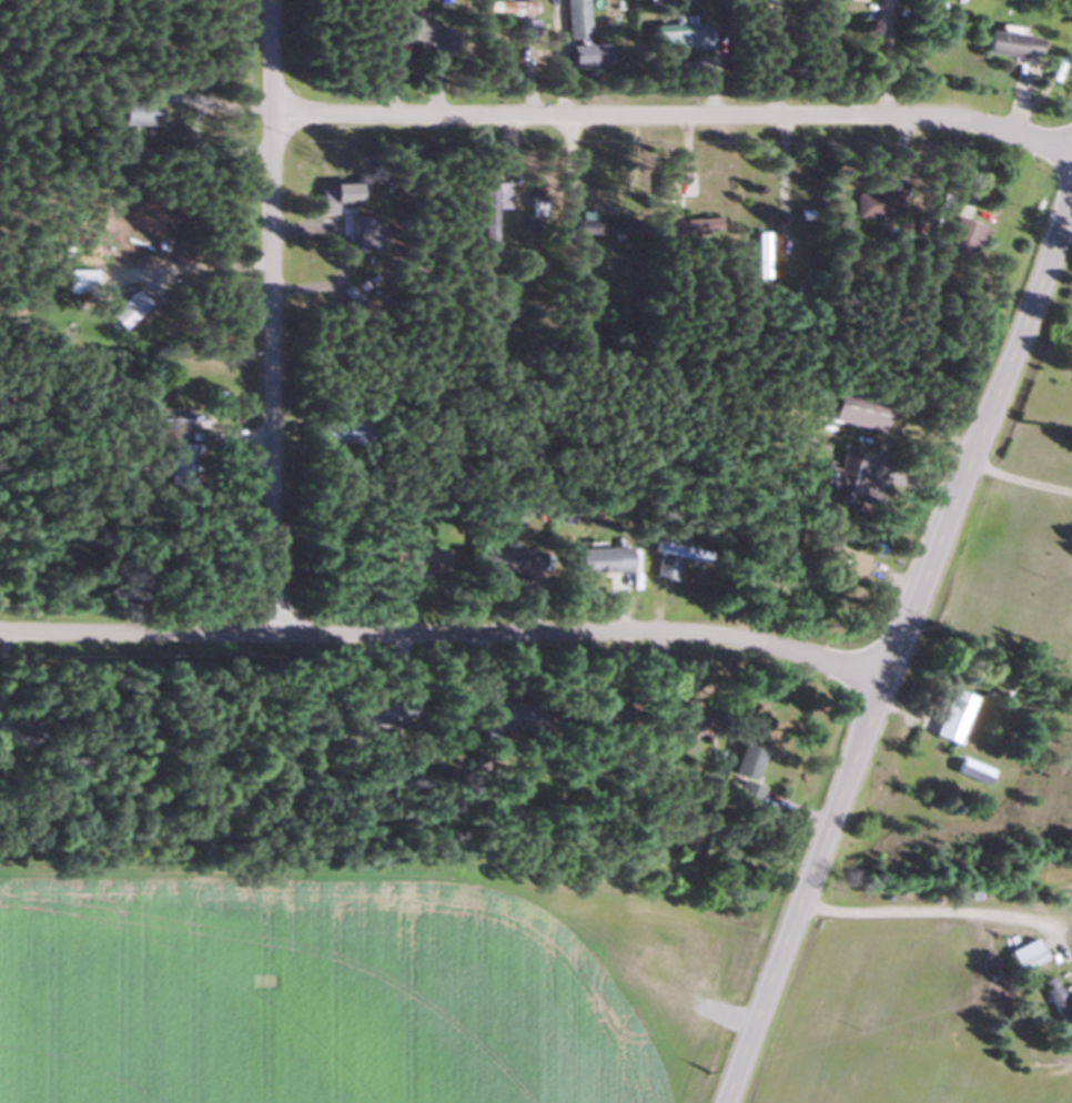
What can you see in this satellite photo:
building: (505, 6)
building: (576, 19)
building: (431, 34)
building: (681, 34)
building: (1011, 45)
building: (586, 54)
road: (880, 57)
building: (145, 107)
road: (671, 117)
road: (776, 178)
building: (342, 193)
building: (873, 203)
road: (1071, 203)
building: (488, 210)
building: (603, 225)
building: (687, 227)
building: (962, 239)
building: (758, 254)
road: (192, 263)
building: (78, 281)
building: (125, 310)
road: (267, 317)
building: (857, 412)
building: (341, 433)
building: (169, 437)
building: (842, 477)
building: (678, 551)
building: (598, 560)
building: (422, 561)
building: (508, 561)
building: (852, 566)
building: (663, 567)
road: (444, 635)
road: (896, 649)
building: (386, 709)
building: (950, 716)
building: (688, 725)
building: (970, 771)
road: (934, 908)
building: (1027, 961)
building: (1056, 1008)

